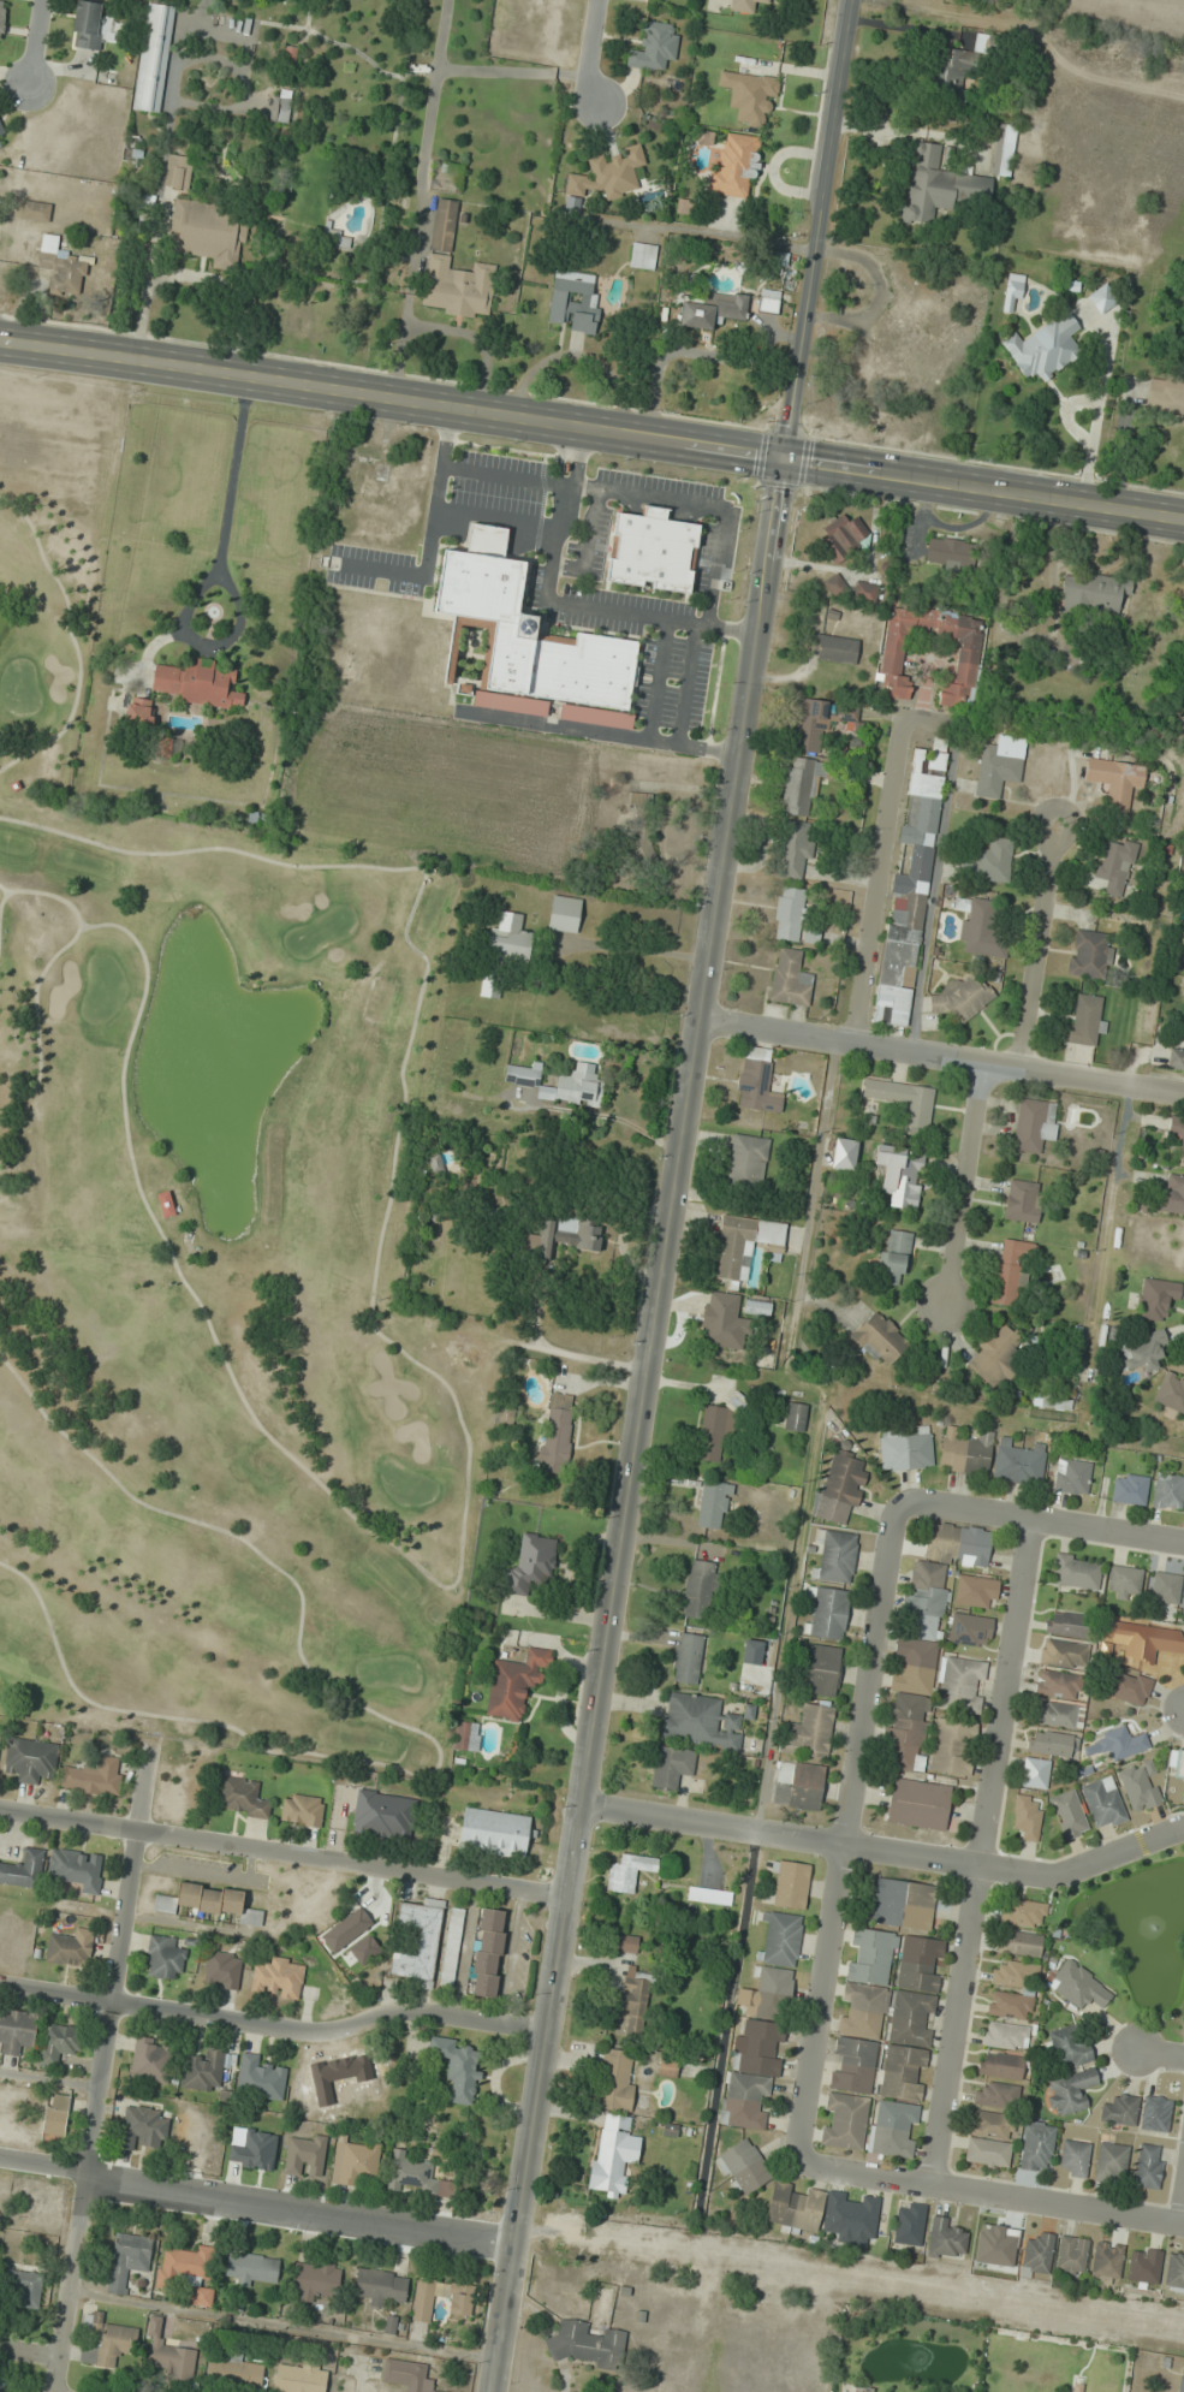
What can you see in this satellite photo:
building: (744, 5)
building: (2, 17)
building: (88, 24)
road: (36, 43)
building: (981, 43)
building: (653, 47)
road: (591, 53)
building: (290, 54)
building: (153, 58)
building: (946, 72)
building: (749, 95)
building: (280, 106)
building: (2, 136)
building: (1004, 149)
building: (736, 165)
building: (178, 171)
building: (606, 176)
building: (940, 186)
building: (684, 206)
building: (35, 210)
building: (442, 231)
building: (207, 232)
building: (642, 255)
building: (63, 267)
building: (1012, 292)
building: (1102, 298)
building: (572, 302)
building: (768, 302)
building: (712, 310)
building: (890, 342)
building: (1043, 348)
building: (1165, 397)
road: (591, 428)
traffic signals: (783, 457)
building: (845, 538)
building: (653, 550)
building: (948, 552)
building: (835, 584)
building: (865, 592)
building: (1093, 593)
building: (528, 637)
building: (833, 648)
building: (894, 660)
building: (197, 682)
building: (139, 712)
building: (847, 712)
building: (809, 725)
building: (996, 767)
building: (1115, 780)
building: (801, 787)
building: (638, 827)
building: (793, 849)
building: (990, 862)
building: (1115, 865)
road: (881, 883)
building: (910, 885)
building: (565, 913)
building: (789, 913)
building: (981, 927)
building: (510, 939)
building: (1090, 954)
road: (1040, 956)
building: (790, 978)
building: (490, 985)
building: (963, 997)
building: (1085, 1021)
road: (916, 1053)
building: (1176, 1057)
building: (757, 1081)
building: (560, 1082)
road: (1160, 1088)
building: (905, 1102)
building: (1035, 1124)
building: (1177, 1133)
building: (845, 1153)
building: (748, 1162)
building: (900, 1174)
road: (968, 1186)
road: (671, 1195)
building: (1171, 1195)
building: (1023, 1200)
building: (166, 1204)
building: (560, 1237)
building: (744, 1244)
park: (215, 1254)
building: (897, 1257)
building: (1011, 1269)
building: (1156, 1298)
building: (757, 1307)
building: (719, 1320)
building: (880, 1339)
building: (1141, 1352)
building: (999, 1355)
building: (1171, 1391)
building: (795, 1417)
building: (716, 1428)
building: (557, 1432)
building: (905, 1449)
building: (965, 1452)
building: (1019, 1462)
building: (1072, 1476)
building: (840, 1488)
building: (1130, 1489)
building: (1168, 1489)
building: (713, 1504)
road: (1040, 1518)
building: (835, 1555)
building: (532, 1563)
building: (1076, 1571)
building: (1124, 1580)
building: (1166, 1587)
building: (698, 1589)
building: (976, 1591)
building: (827, 1613)
building: (1067, 1624)
building: (970, 1630)
building: (926, 1638)
building: (752, 1651)
building: (1064, 1654)
building: (688, 1658)
building: (822, 1669)
building: (514, 1684)
building: (960, 1684)
building: (1058, 1684)
building: (1128, 1687)
building: (1059, 1714)
building: (700, 1722)
building: (809, 1732)
building: (0, 1734)
building: (466, 1735)
building: (1053, 1743)
building: (1120, 1743)
building: (952, 1746)
building: (31, 1759)
building: (1178, 1764)
building: (672, 1765)
building: (1035, 1773)
building: (95, 1776)
building: (798, 1786)
building: (1140, 1786)
building: (1183, 1796)
building: (242, 1797)
building: (1103, 1803)
building: (918, 1804)
building: (302, 1810)
building: (1069, 1814)
building: (385, 1816)
building: (1027, 1817)
road: (840, 1828)
building: (493, 1832)
road: (978, 1848)
road: (883, 1851)
road: (282, 1852)
building: (24, 1868)
building: (77, 1869)
building: (627, 1871)
building: (791, 1884)
building: (709, 1895)
building: (208, 1901)
building: (903, 1904)
building: (1023, 1912)
building: (781, 1939)
building: (417, 1942)
building: (625, 1942)
building: (1018, 1943)
building: (452, 1947)
building: (67, 1949)
building: (488, 1953)
building: (163, 1958)
road: (119, 1961)
building: (222, 1970)
building: (1013, 1973)
building: (278, 1978)
building: (1079, 1986)
building: (633, 2002)
building: (1010, 2005)
building: (862, 2010)
building: (911, 2016)
road: (273, 2025)
building: (17, 2030)
building: (1006, 2036)
building: (59, 2043)
building: (756, 2048)
building: (1069, 2048)
road: (1162, 2053)
building: (150, 2060)
building: (1000, 2065)
building: (458, 2067)
building: (667, 2067)
building: (203, 2070)
building: (260, 2078)
building: (617, 2079)
building: (1070, 2091)
building: (996, 2095)
building: (1120, 2111)
building: (55, 2114)
building: (1155, 2114)
building: (844, 2121)
building: (992, 2125)
building: (142, 2127)
building: (894, 2129)
building: (1036, 2145)
building: (987, 2151)
building: (613, 2153)
building: (304, 2155)
building: (1073, 2157)
building: (358, 2162)
building: (1112, 2162)
building: (1148, 2166)
building: (743, 2167)
building: (410, 2174)
road: (992, 2192)
road: (256, 2202)
building: (795, 2207)
building: (852, 2216)
building: (909, 2224)
building: (945, 2239)
building: (1037, 2251)
building: (1071, 2256)
building: (127, 2260)
building: (1106, 2262)
building: (1144, 2267)
building: (251, 2268)
building: (186, 2272)
building: (1174, 2272)
building: (315, 2280)
road: (76, 2284)
building: (23, 2285)
building: (381, 2286)
building: (460, 2298)
building: (423, 2299)
building: (105, 2341)
building: (588, 2344)
road: (34, 2354)
building: (167, 2355)
building: (234, 2373)
building: (407, 2375)
building: (299, 2378)
building: (1183, 2382)
building: (4, 2391)

